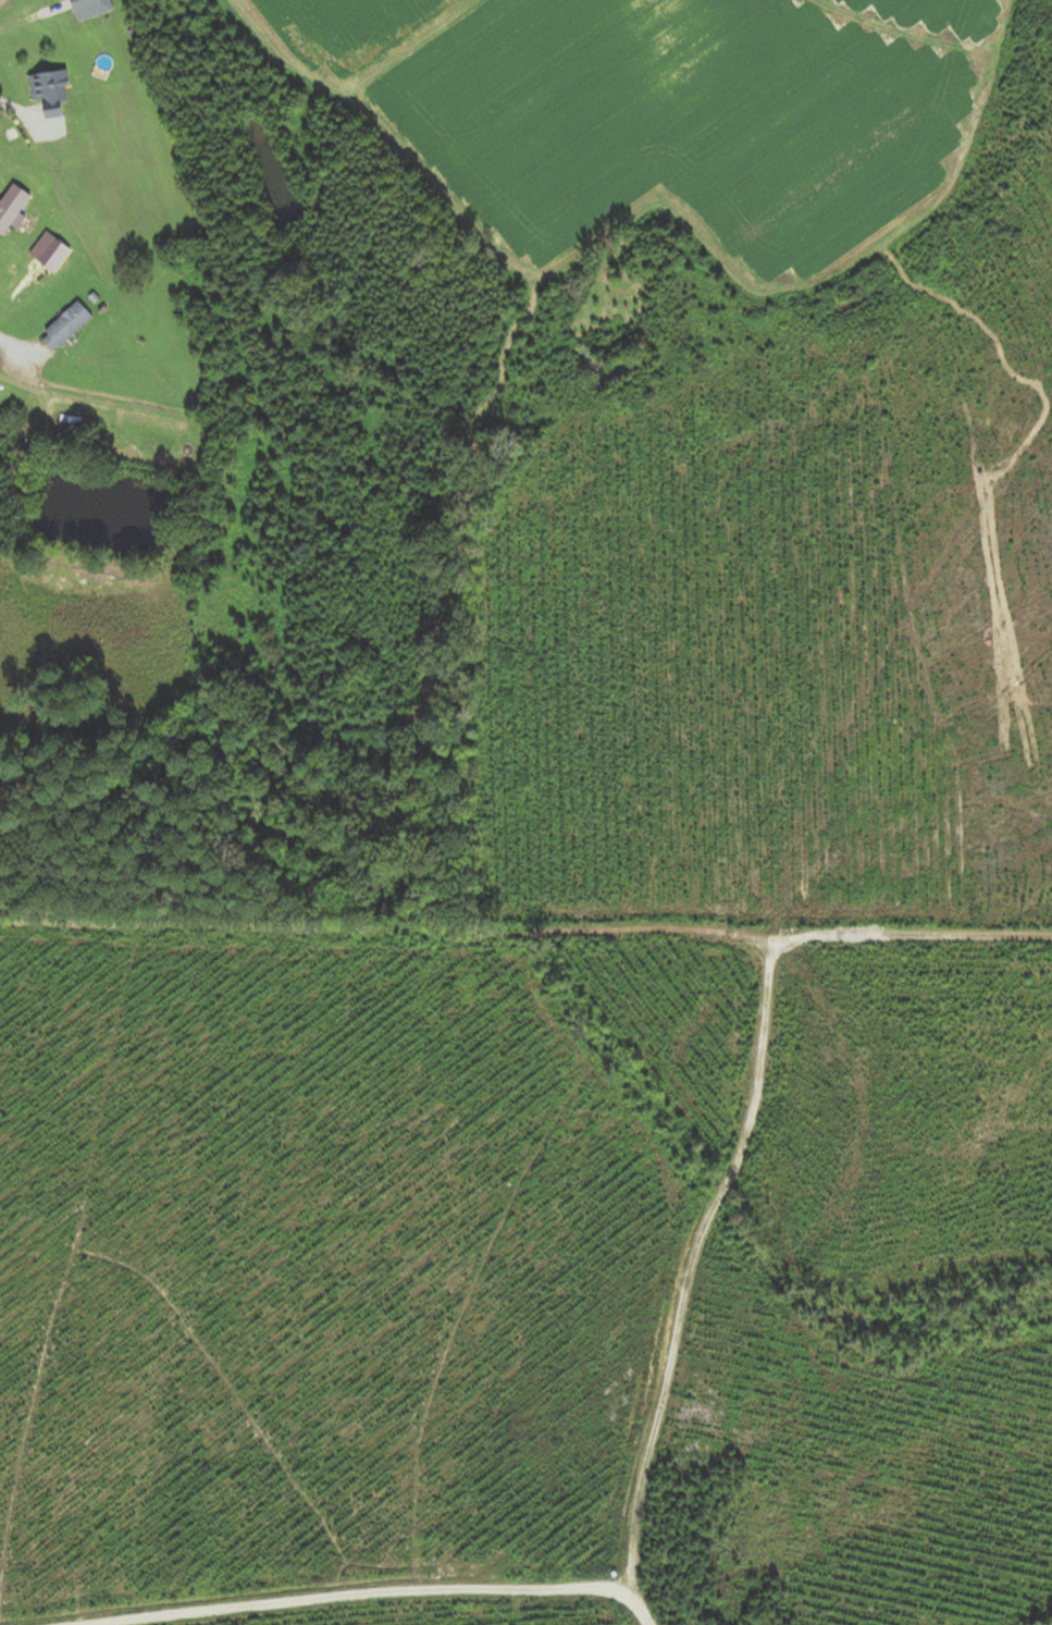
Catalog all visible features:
building: (47, 93)
road: (18, 111)
building: (11, 207)
building: (65, 327)
building: (69, 426)
road: (272, 1551)

